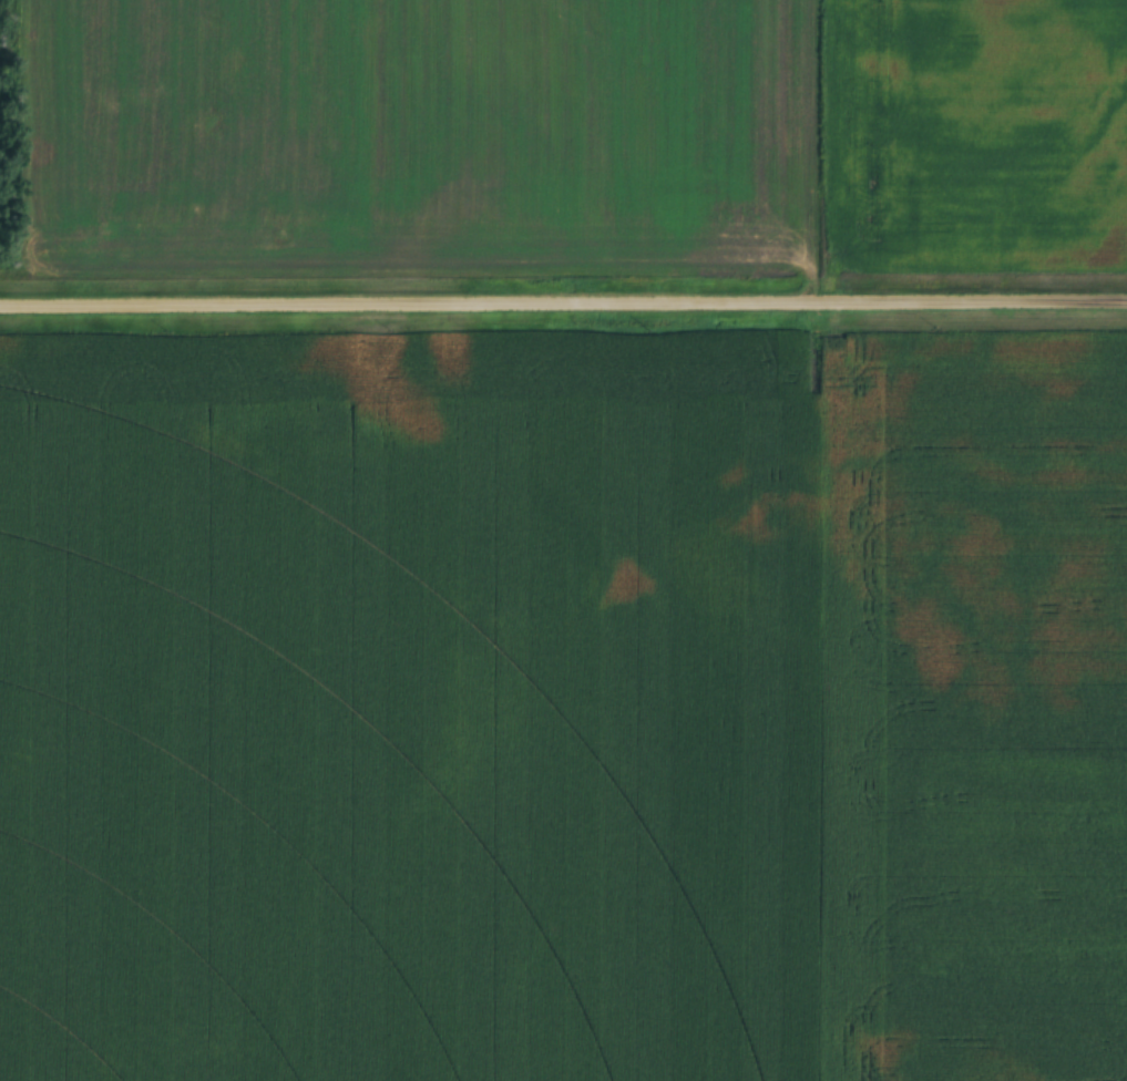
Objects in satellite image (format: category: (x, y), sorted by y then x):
road: (563, 309)

